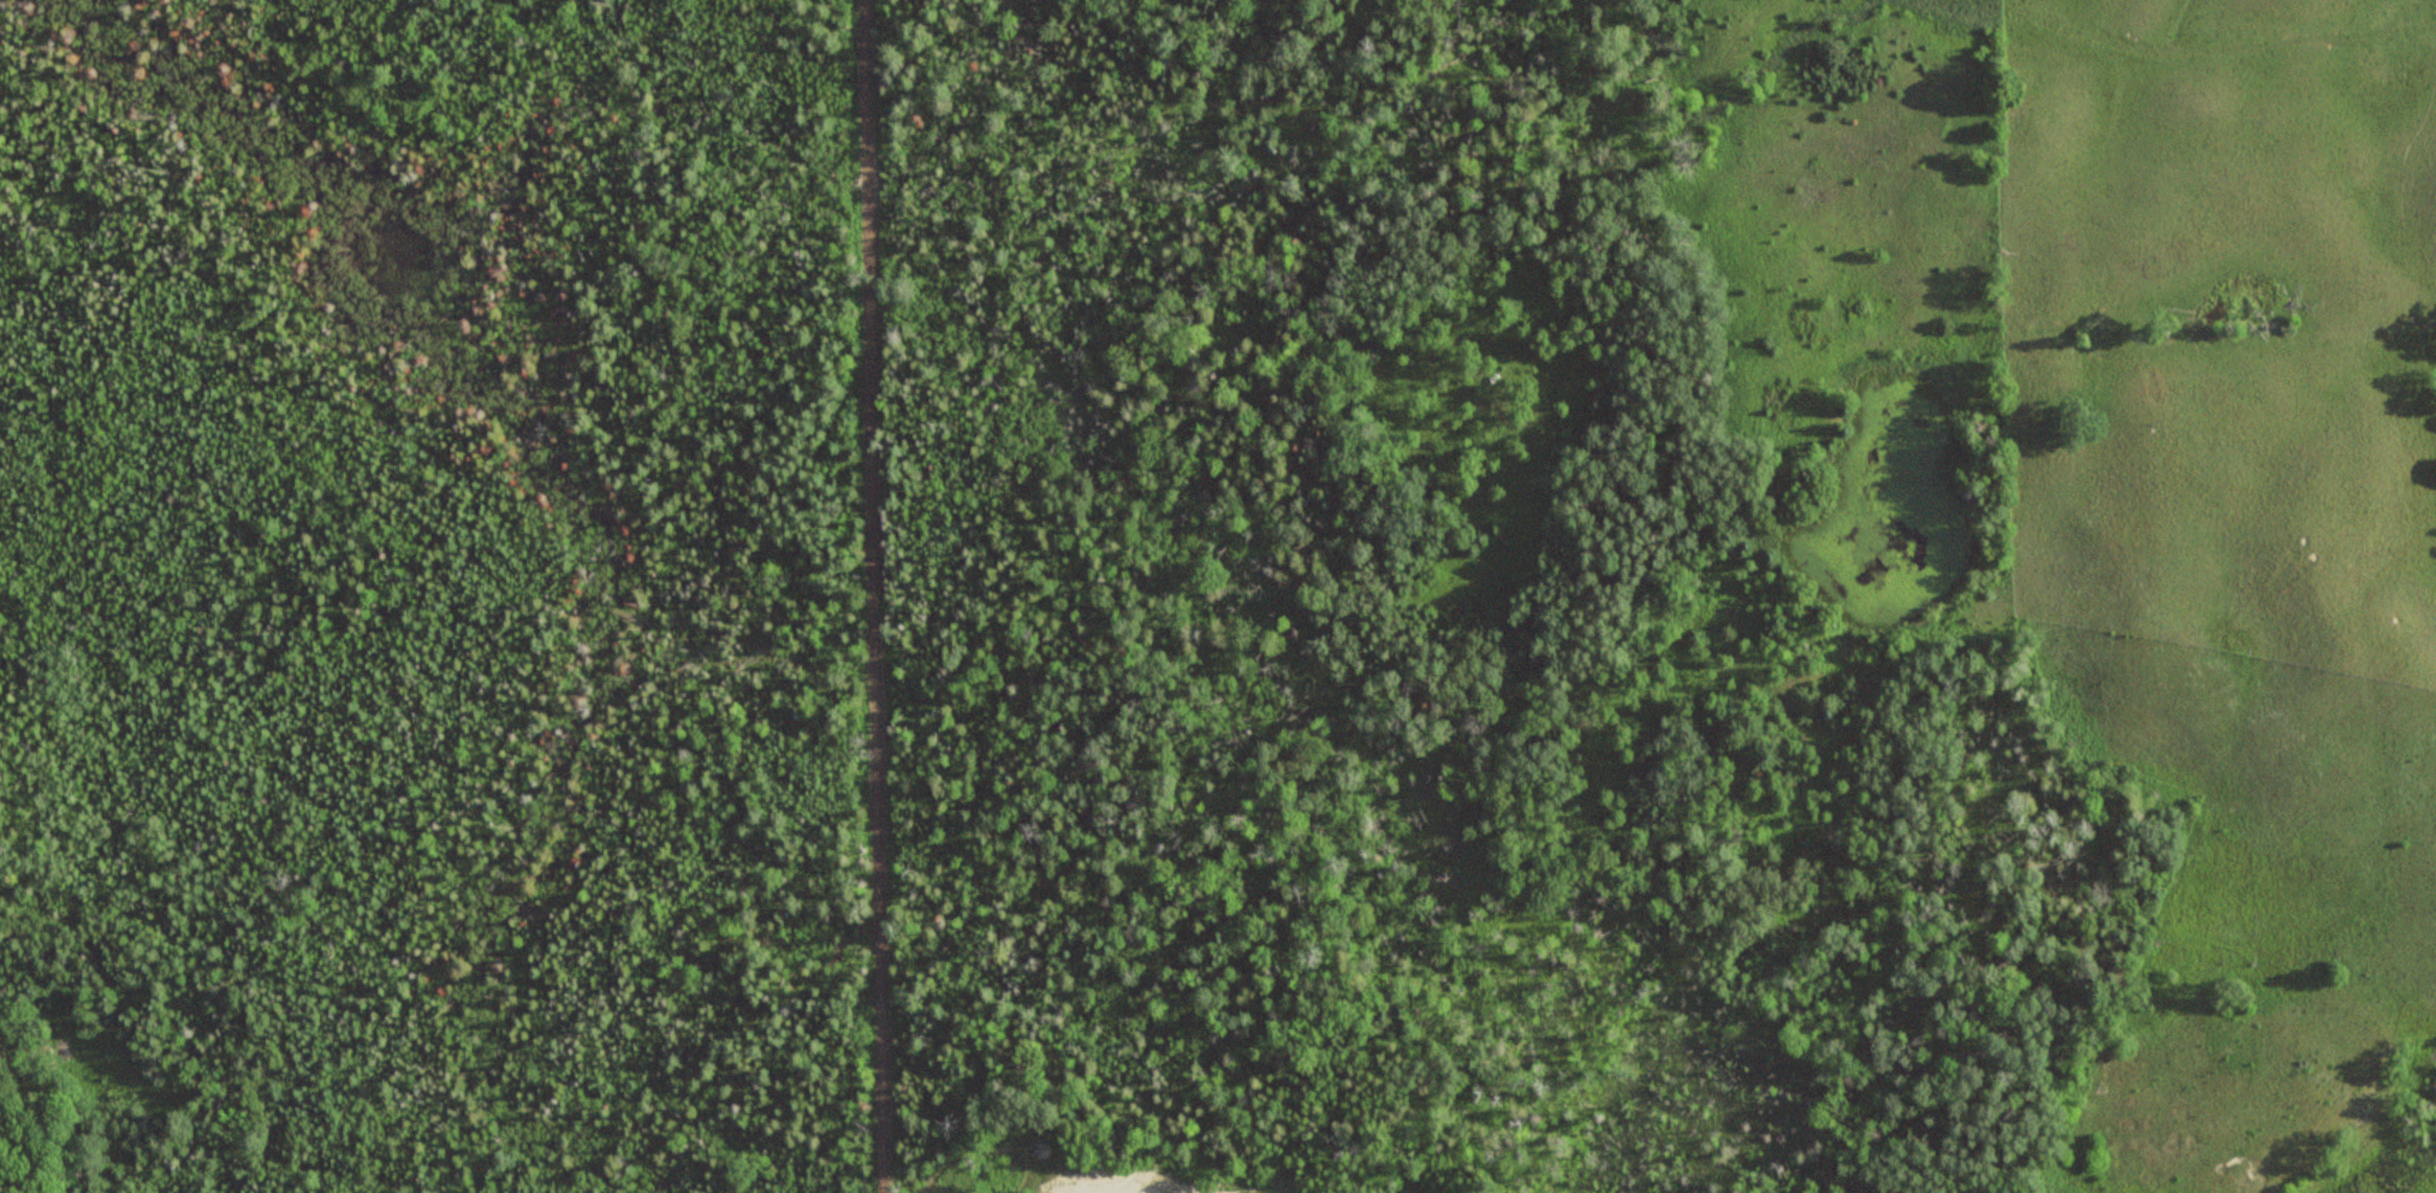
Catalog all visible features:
road: (874, 596)

